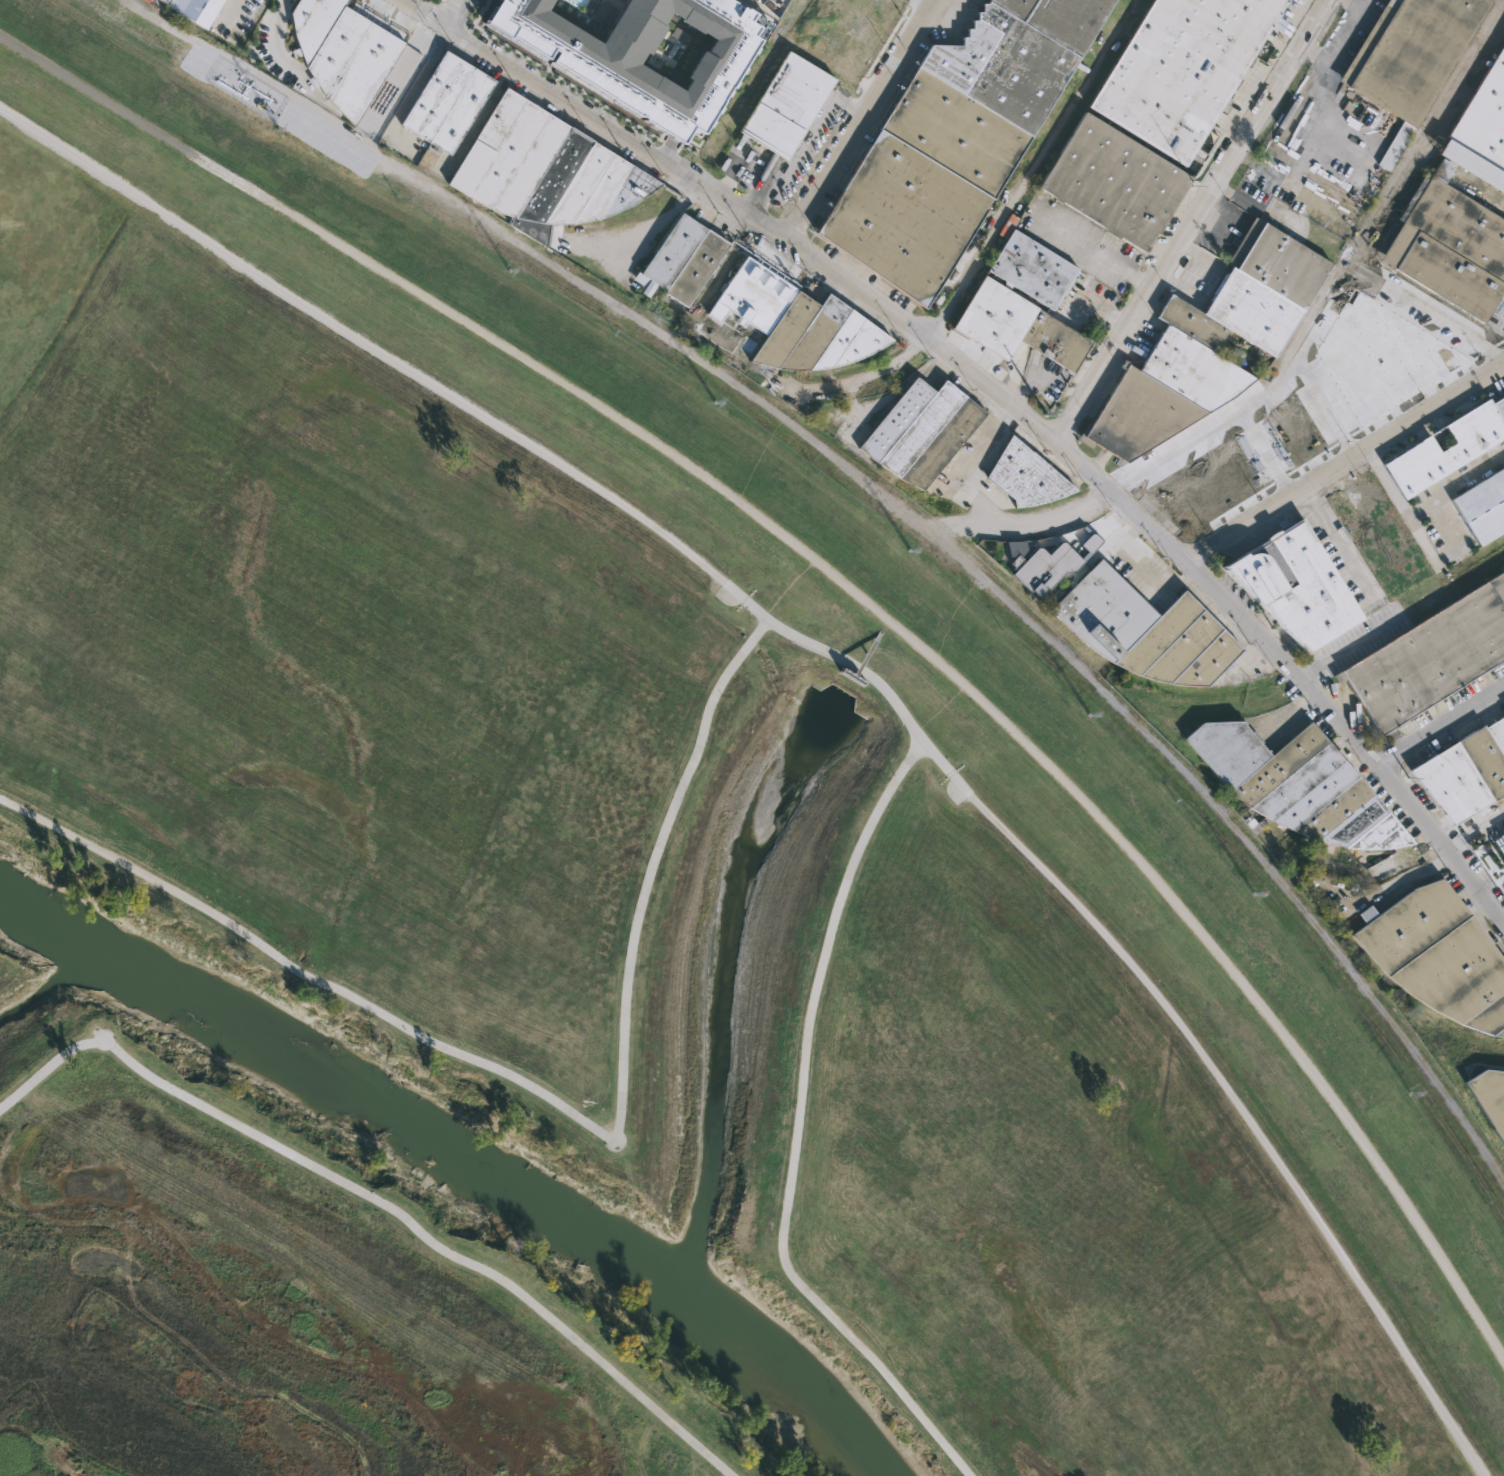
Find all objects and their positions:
building: (147, 0)
road: (234, 1)
road: (439, 1)
building: (194, 9)
road: (431, 12)
road: (481, 12)
road: (456, 13)
road: (459, 14)
road: (442, 35)
road: (467, 35)
road: (1342, 42)
building: (341, 53)
building: (1017, 54)
building: (641, 55)
building: (1410, 59)
building: (1181, 69)
railway: (287, 72)
road: (575, 87)
building: (384, 99)
building: (445, 102)
building: (785, 105)
building: (1485, 116)
road: (860, 121)
power tower: (277, 131)
road: (804, 141)
building: (1473, 165)
building: (542, 170)
building: (1113, 182)
building: (921, 185)
road: (689, 191)
road: (1200, 225)
road: (649, 231)
building: (1448, 245)
road: (1093, 253)
building: (682, 259)
power tower: (508, 272)
road: (715, 283)
building: (1024, 305)
building: (797, 322)
building: (1211, 343)
road: (364, 346)
railway: (691, 357)
railway: (1288, 387)
road: (1006, 399)
building: (1320, 403)
power tower: (715, 404)
building: (1500, 407)
building: (920, 432)
road: (1191, 445)
building: (1445, 447)
road: (1344, 463)
building: (1025, 476)
building: (1483, 506)
road: (1336, 542)
power tower: (908, 551)
building: (1392, 556)
building: (1041, 566)
building: (1297, 587)
road: (850, 592)
building: (1145, 631)
road: (1349, 644)
railway: (1059, 657)
building: (1431, 658)
road: (861, 669)
railway: (1312, 669)
power tower: (1089, 717)
road: (1442, 729)
building: (1466, 771)
building: (1298, 784)
road: (1475, 830)
building: (1499, 845)
railway: (1365, 868)
power tower: (1252, 894)
park: (592, 927)
building: (1438, 955)
river: (729, 971)
river: (57, 982)
railway: (1429, 1034)
railway: (1434, 1086)
power tower: (1409, 1093)
building: (1490, 1097)
road: (549, 1104)
road: (1246, 1118)
road: (799, 1132)
river: (464, 1139)
road: (379, 1202)

